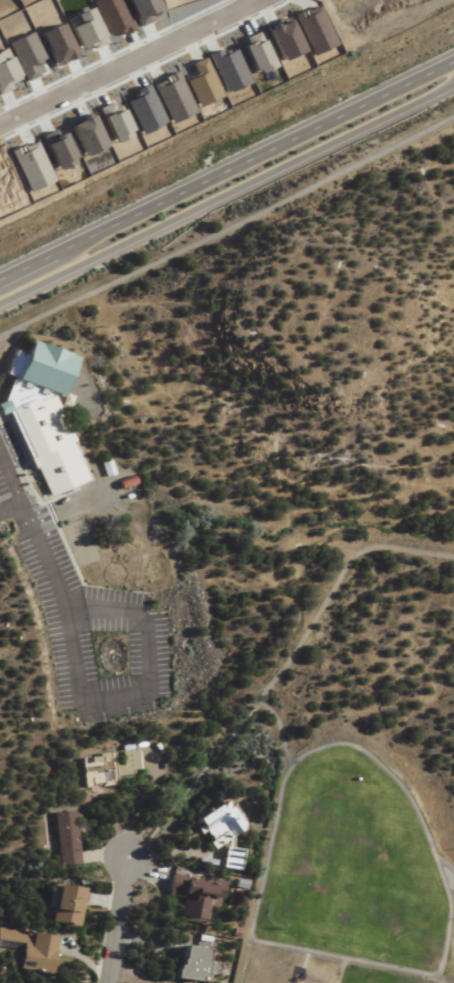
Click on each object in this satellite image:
road: (125, 63)
road: (255, 148)
road: (226, 187)
road: (227, 213)
road: (28, 258)
building: (43, 420)
road: (11, 506)
road: (37, 533)
parking lot: (85, 615)
road: (279, 673)
road: (140, 690)
building: (105, 768)
building: (219, 832)
building: (66, 839)
building: (191, 896)
building: (63, 904)
road: (118, 921)
building: (29, 949)
building: (190, 963)

